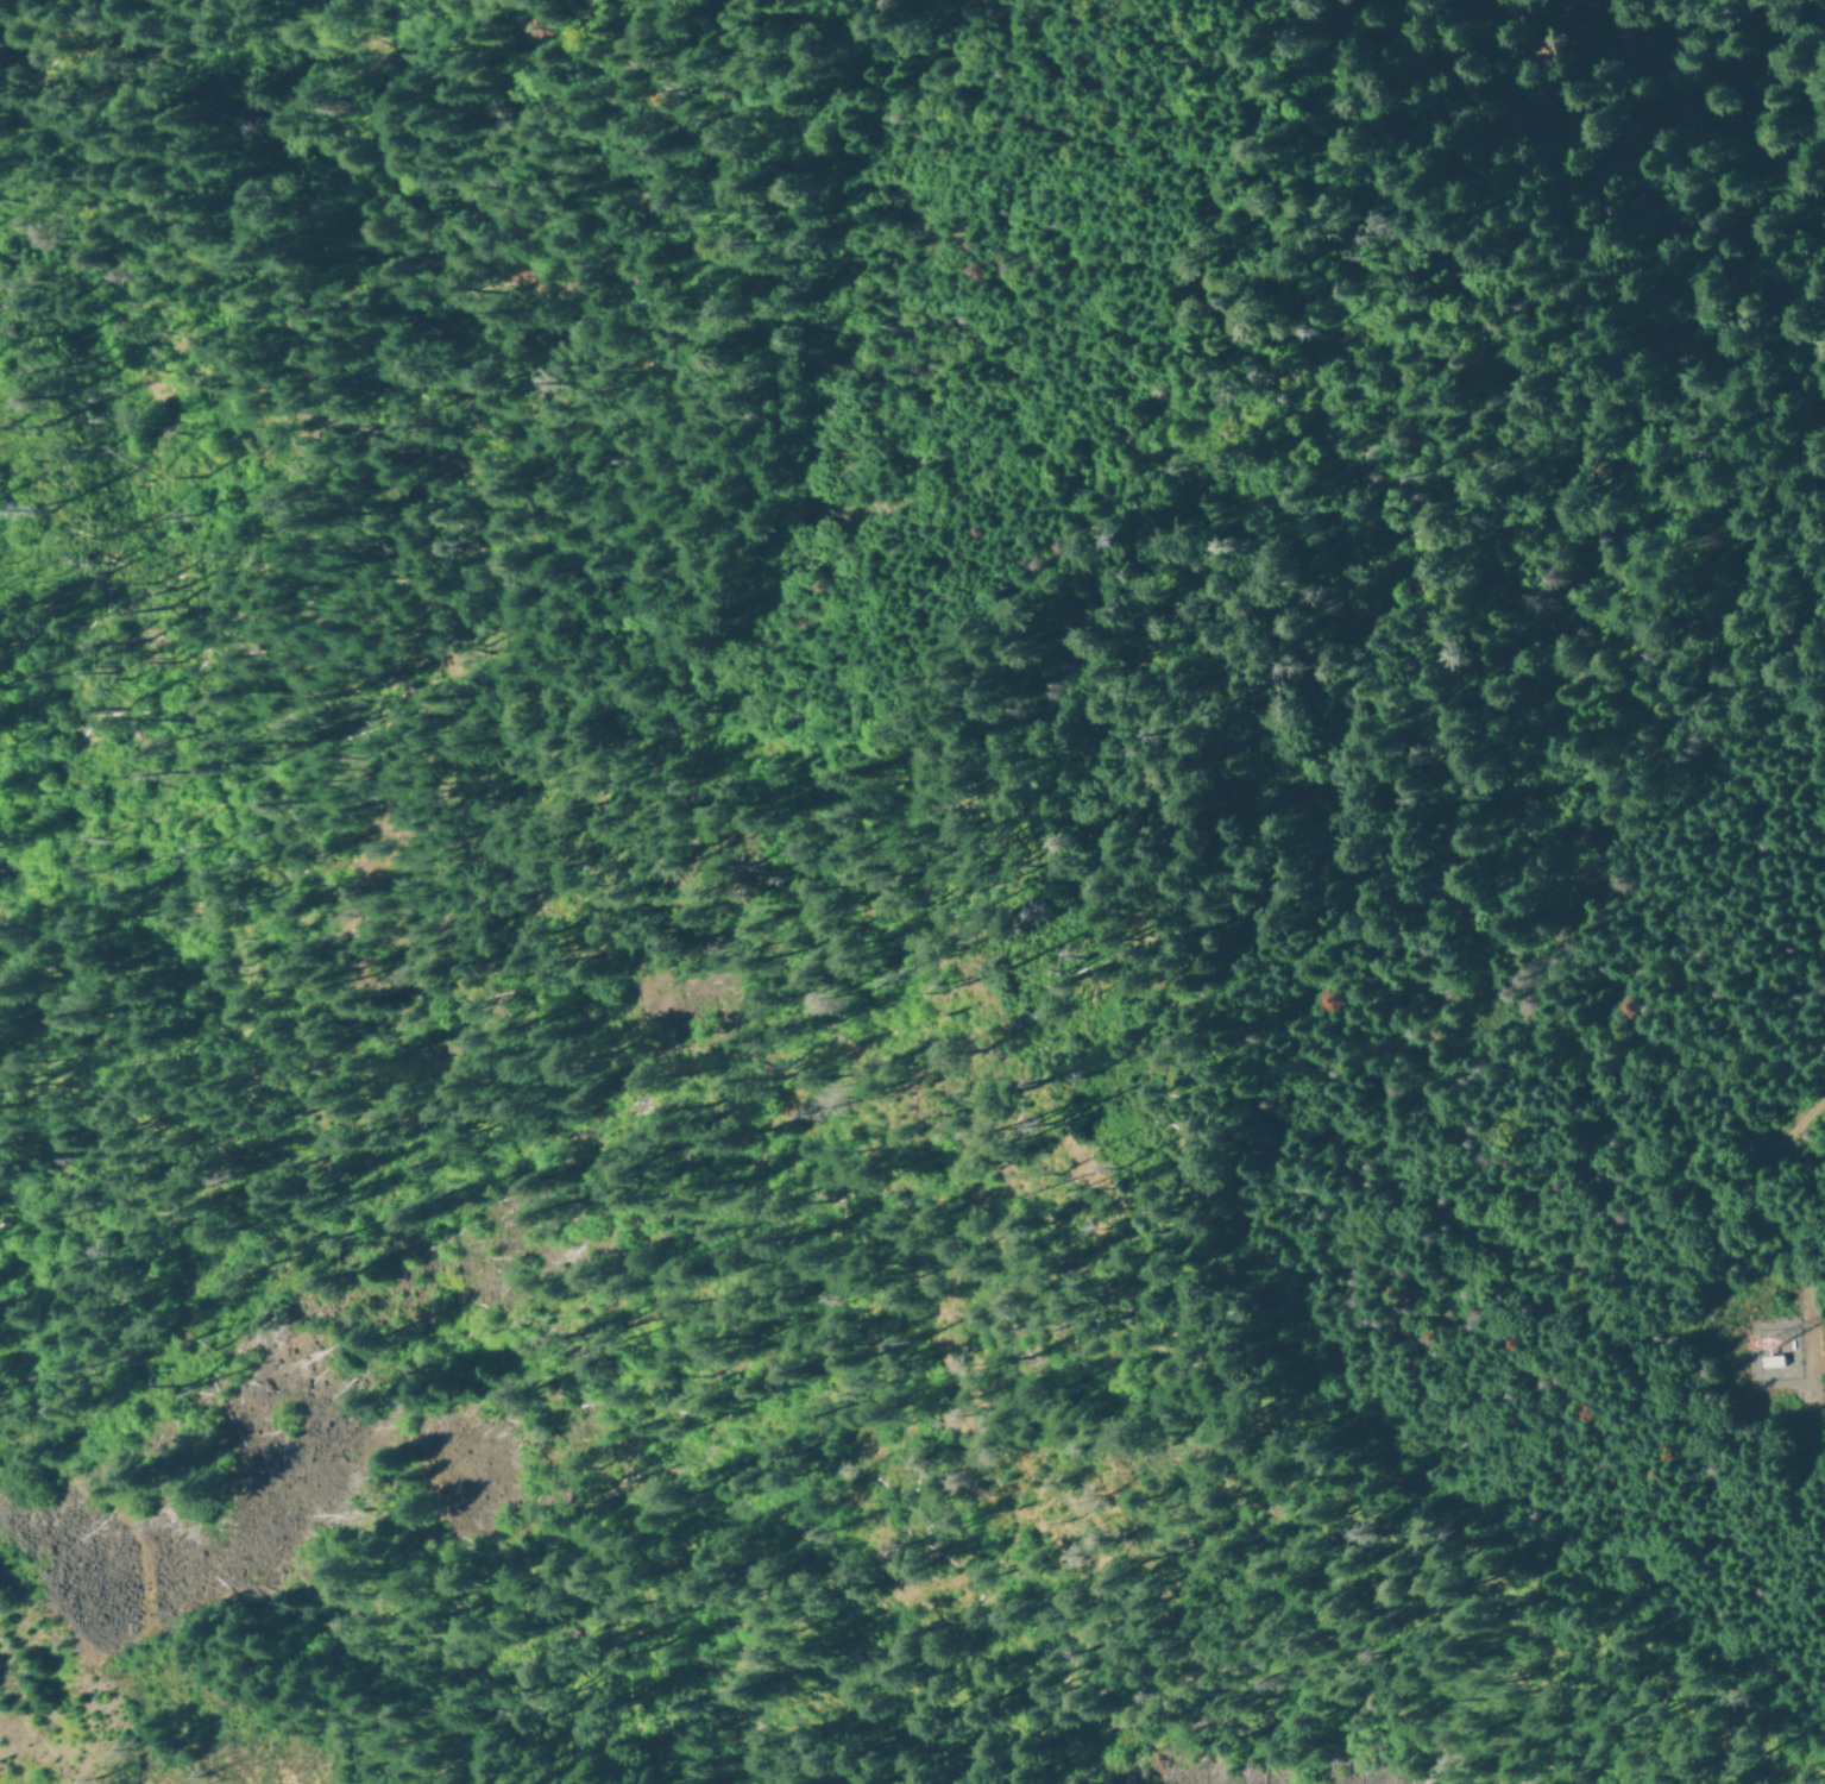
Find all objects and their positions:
road: (1766, 1201)

